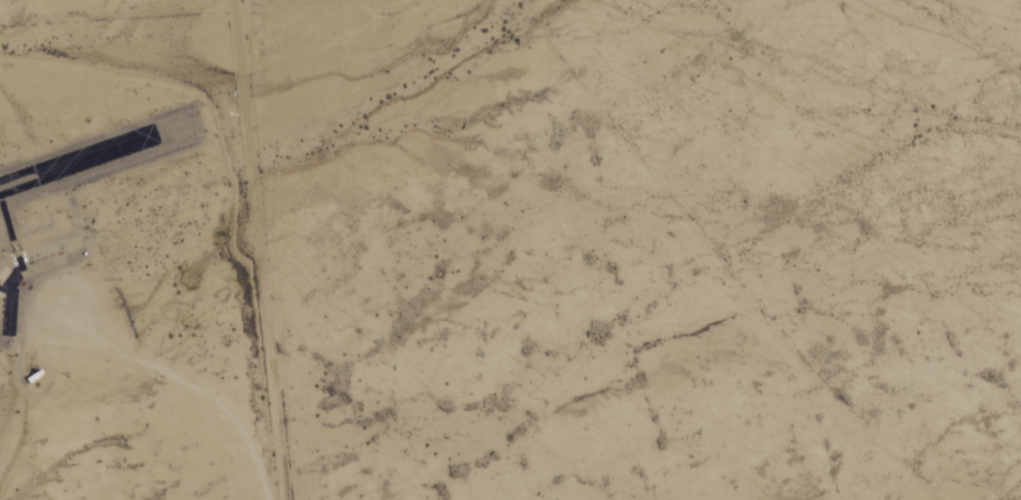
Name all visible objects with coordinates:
road: (118, 12)
airport runway: (72, 149)
building: (110, 149)
airport: (62, 248)
road: (257, 250)
road: (176, 384)

